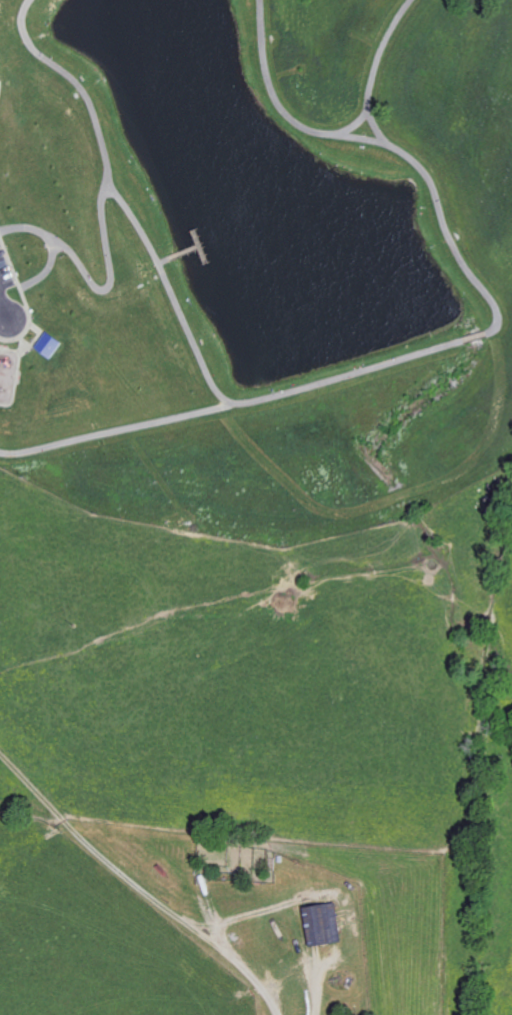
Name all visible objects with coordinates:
road: (282, 108)
road: (353, 124)
road: (418, 164)
park: (243, 210)
pier: (201, 244)
pier: (185, 251)
road: (164, 260)
road: (25, 283)
road: (95, 283)
road: (177, 302)
road: (5, 306)
road: (475, 336)
building: (48, 345)
road: (116, 429)
road: (140, 881)

